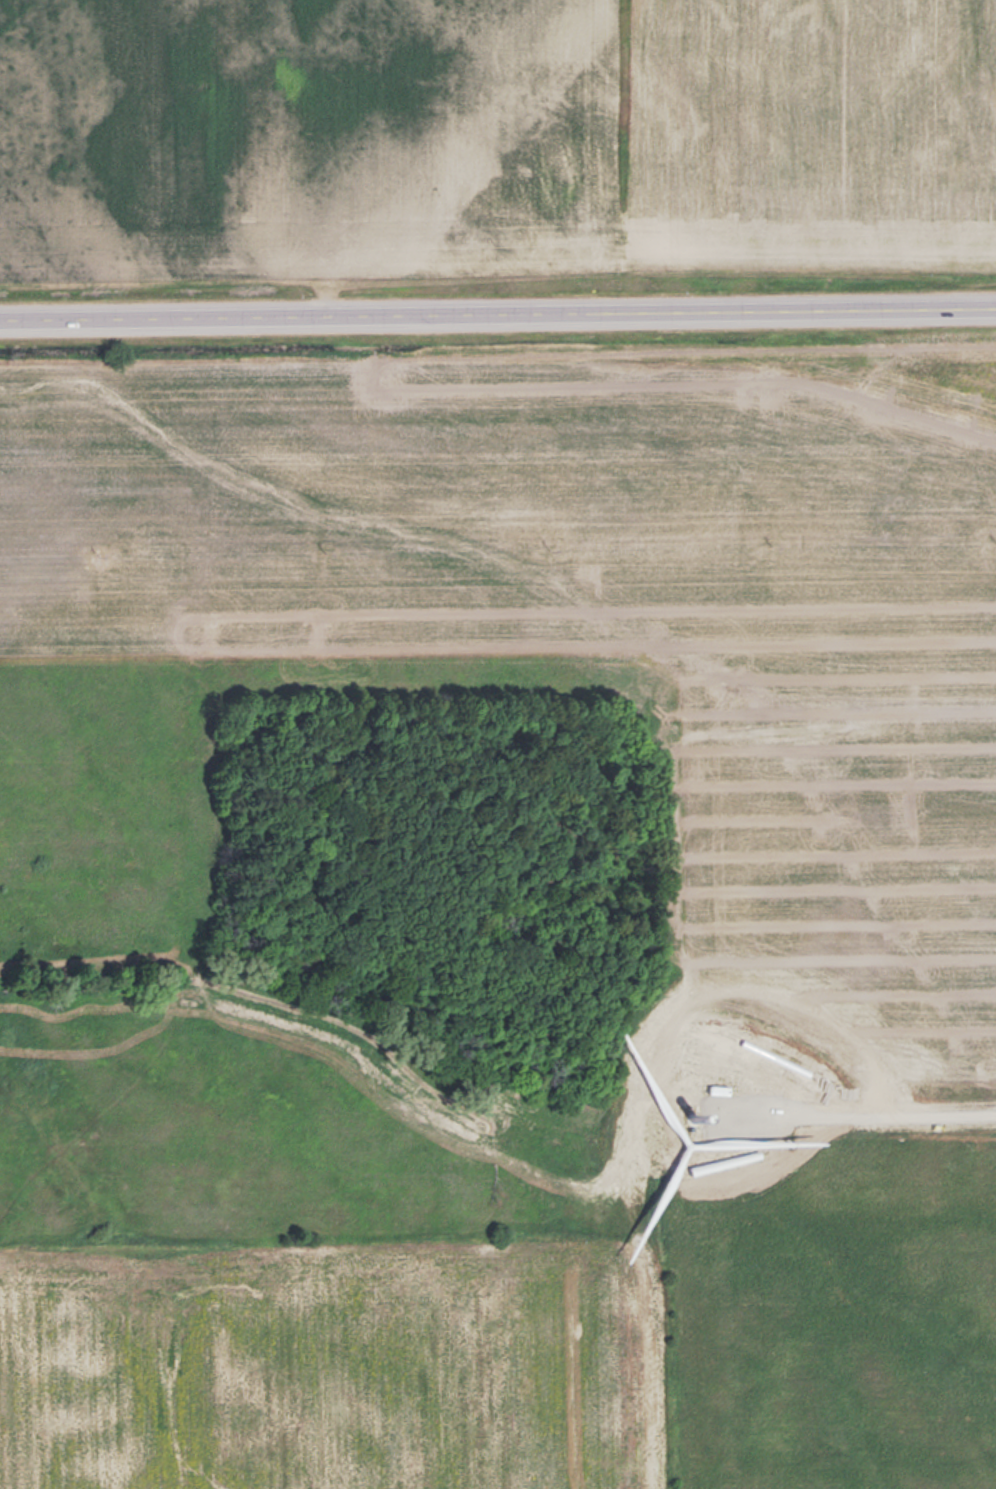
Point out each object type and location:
road: (498, 318)
wind turbine: (690, 1121)

